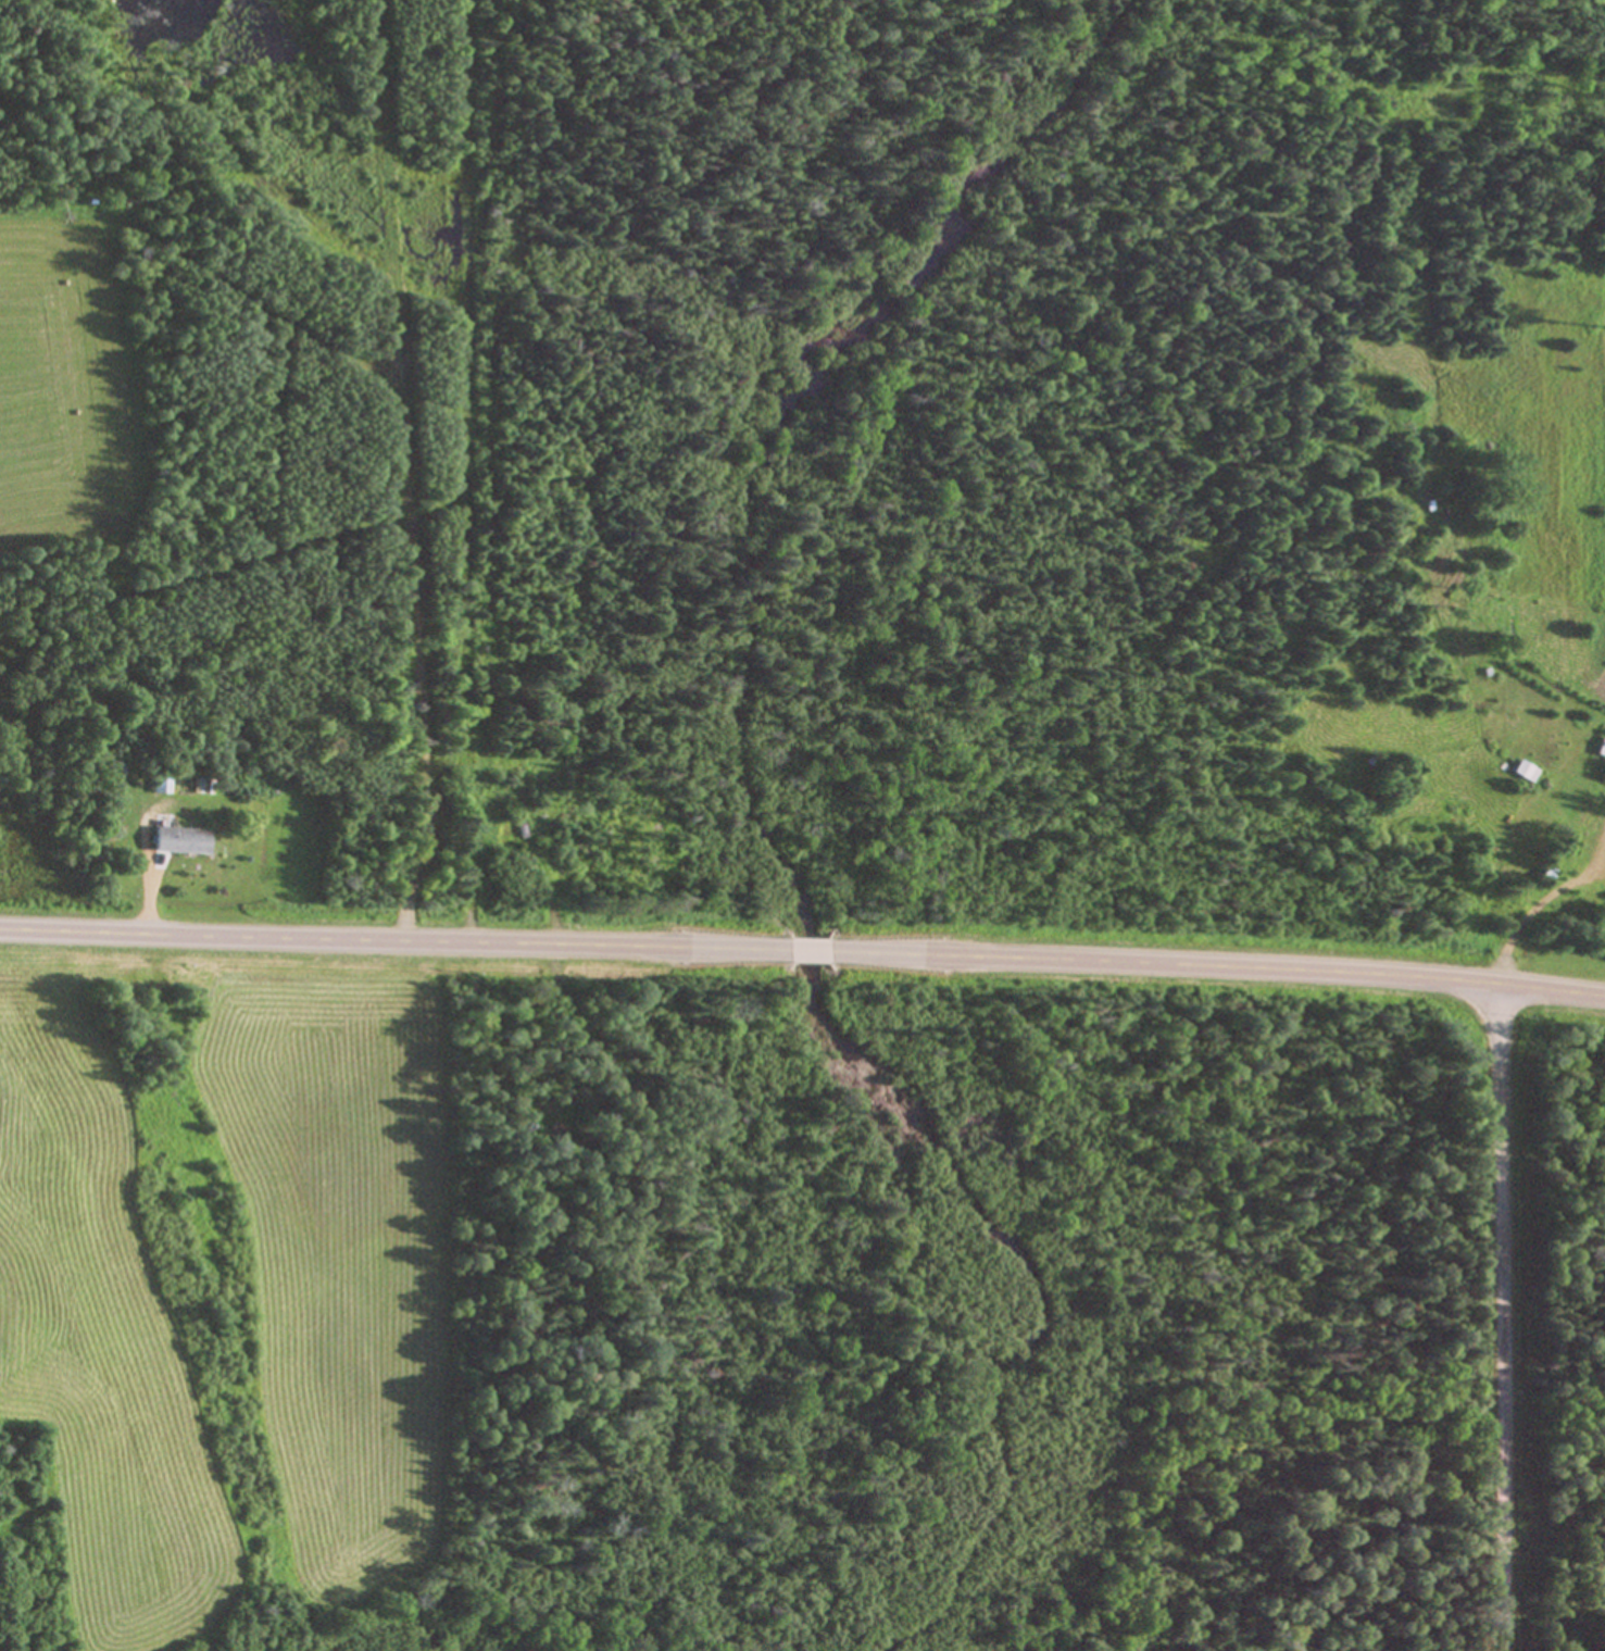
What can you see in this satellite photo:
building: (1602, 748)
building: (166, 784)
building: (198, 786)
building: (1562, 793)
building: (504, 838)
building: (178, 840)
road: (1544, 897)
road: (145, 903)
road: (389, 939)
road: (808, 951)
road: (1221, 966)
road: (1497, 1316)

